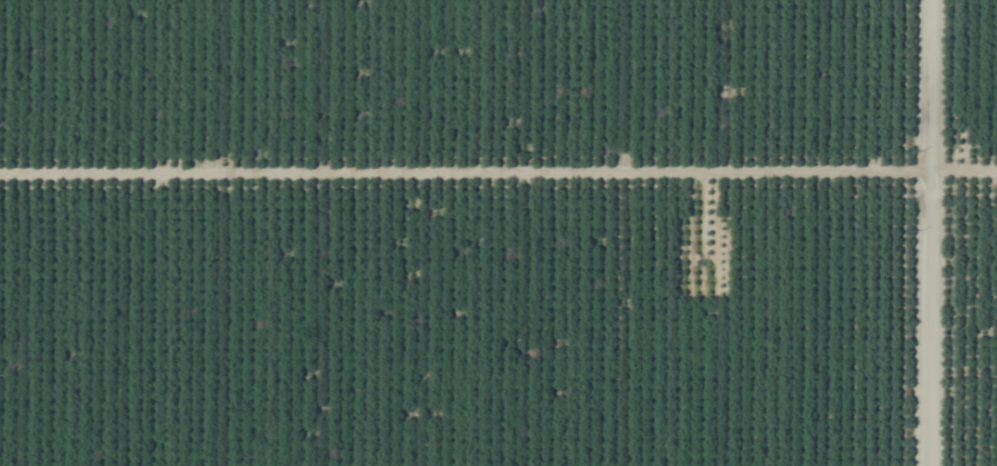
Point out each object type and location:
road: (930, 233)

